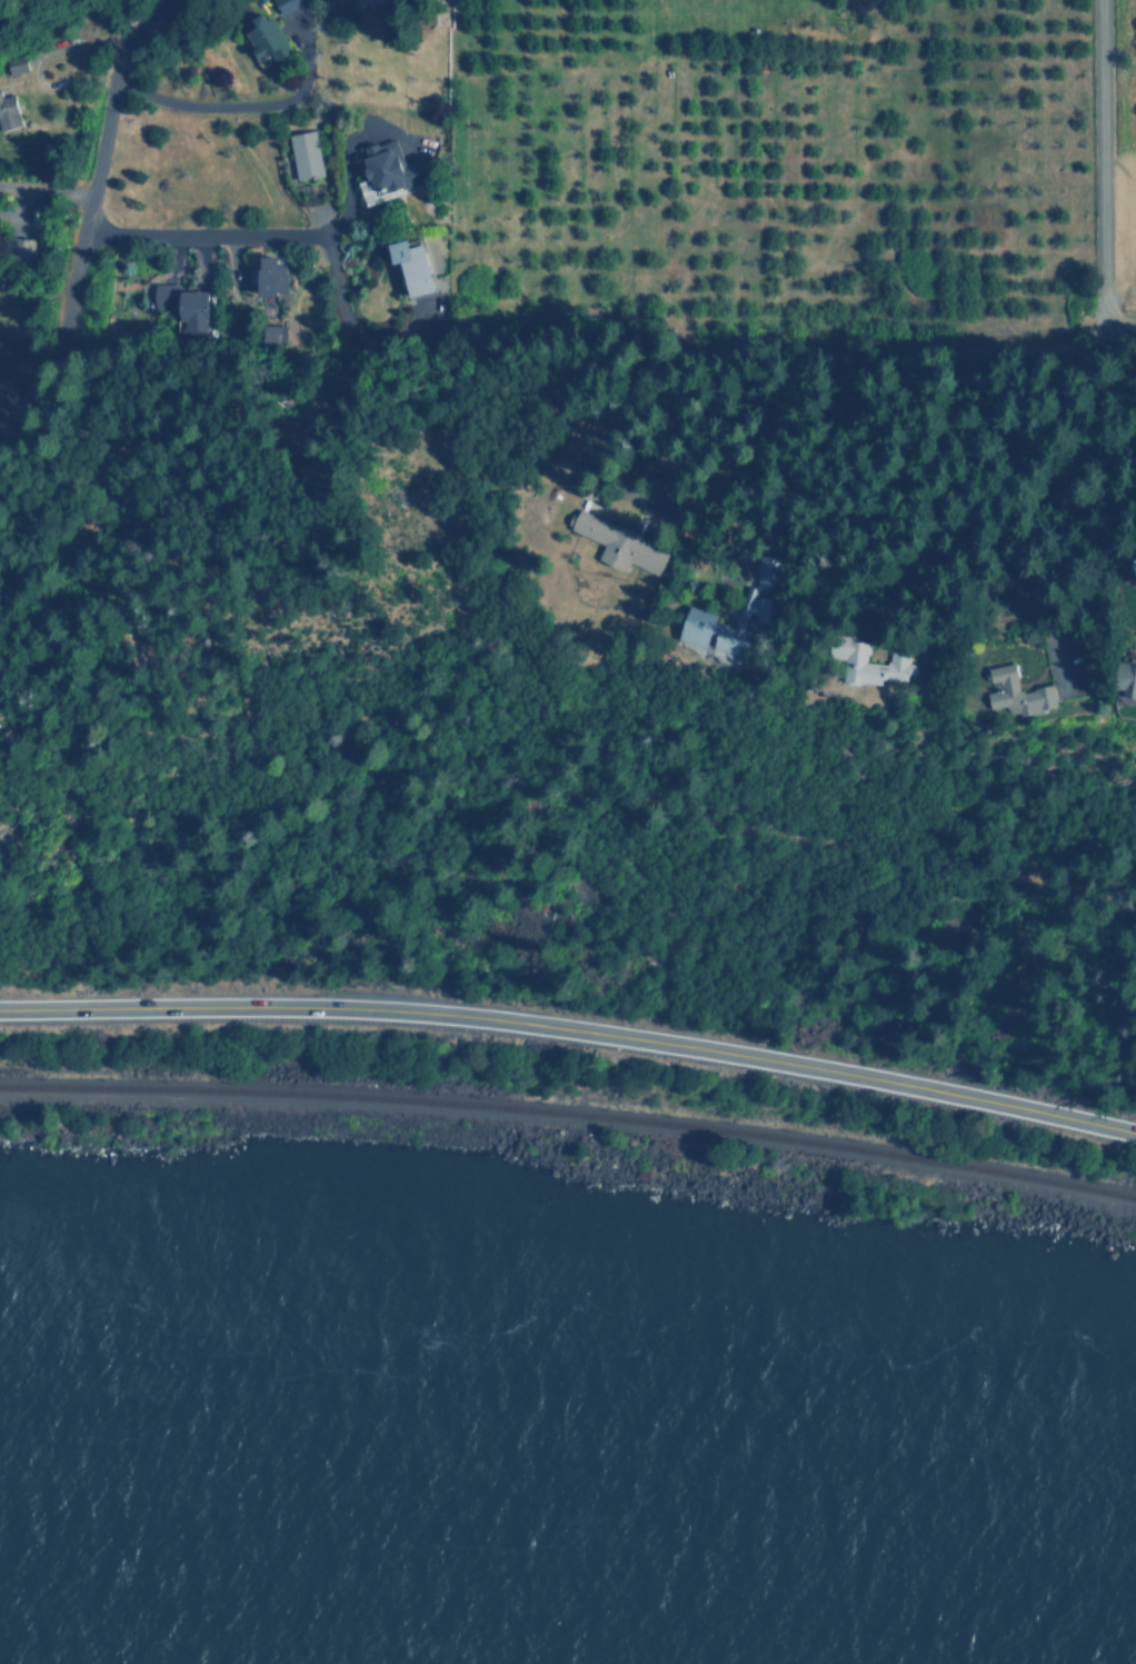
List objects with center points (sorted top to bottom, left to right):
road: (230, 106)
road: (83, 216)
road: (272, 235)
road: (986, 347)
road: (1135, 396)
road: (830, 512)
road: (571, 1034)
railway: (570, 1114)

